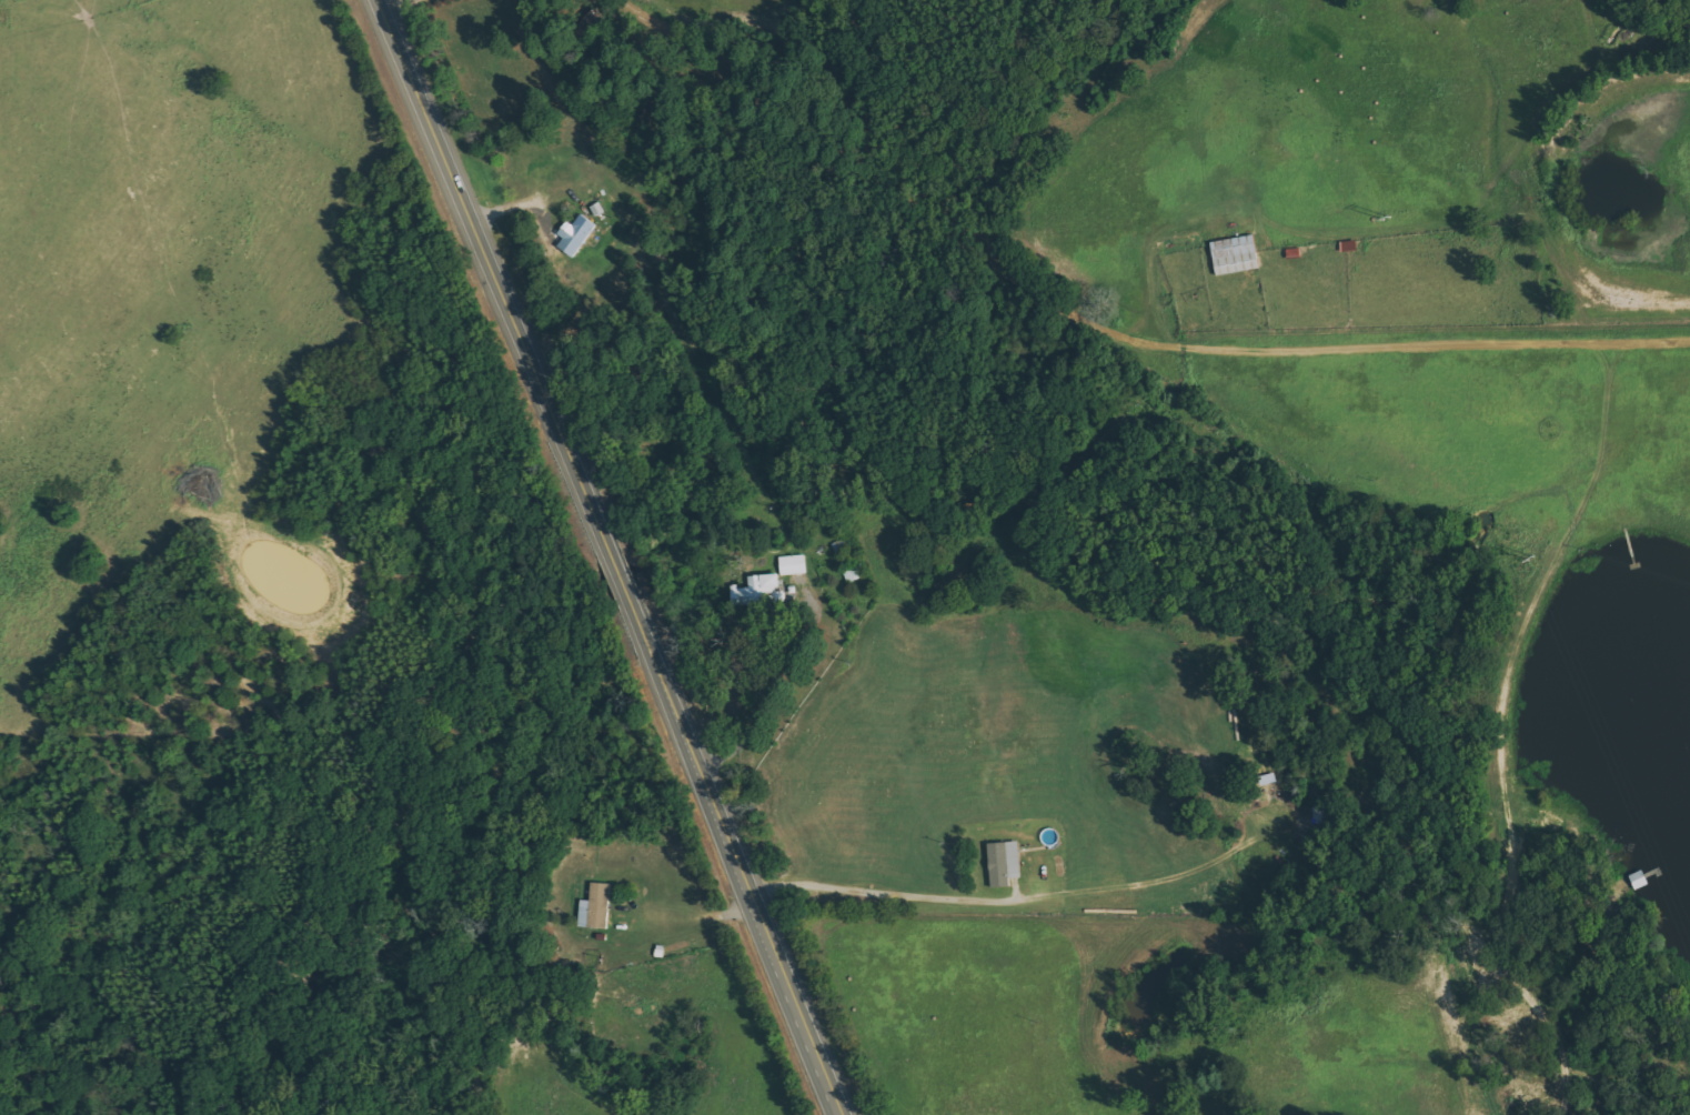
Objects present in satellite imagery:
building: (575, 234)
building: (1233, 255)
road: (1097, 329)
road: (621, 556)
building: (1003, 863)
building: (594, 907)
road: (1110, 966)

